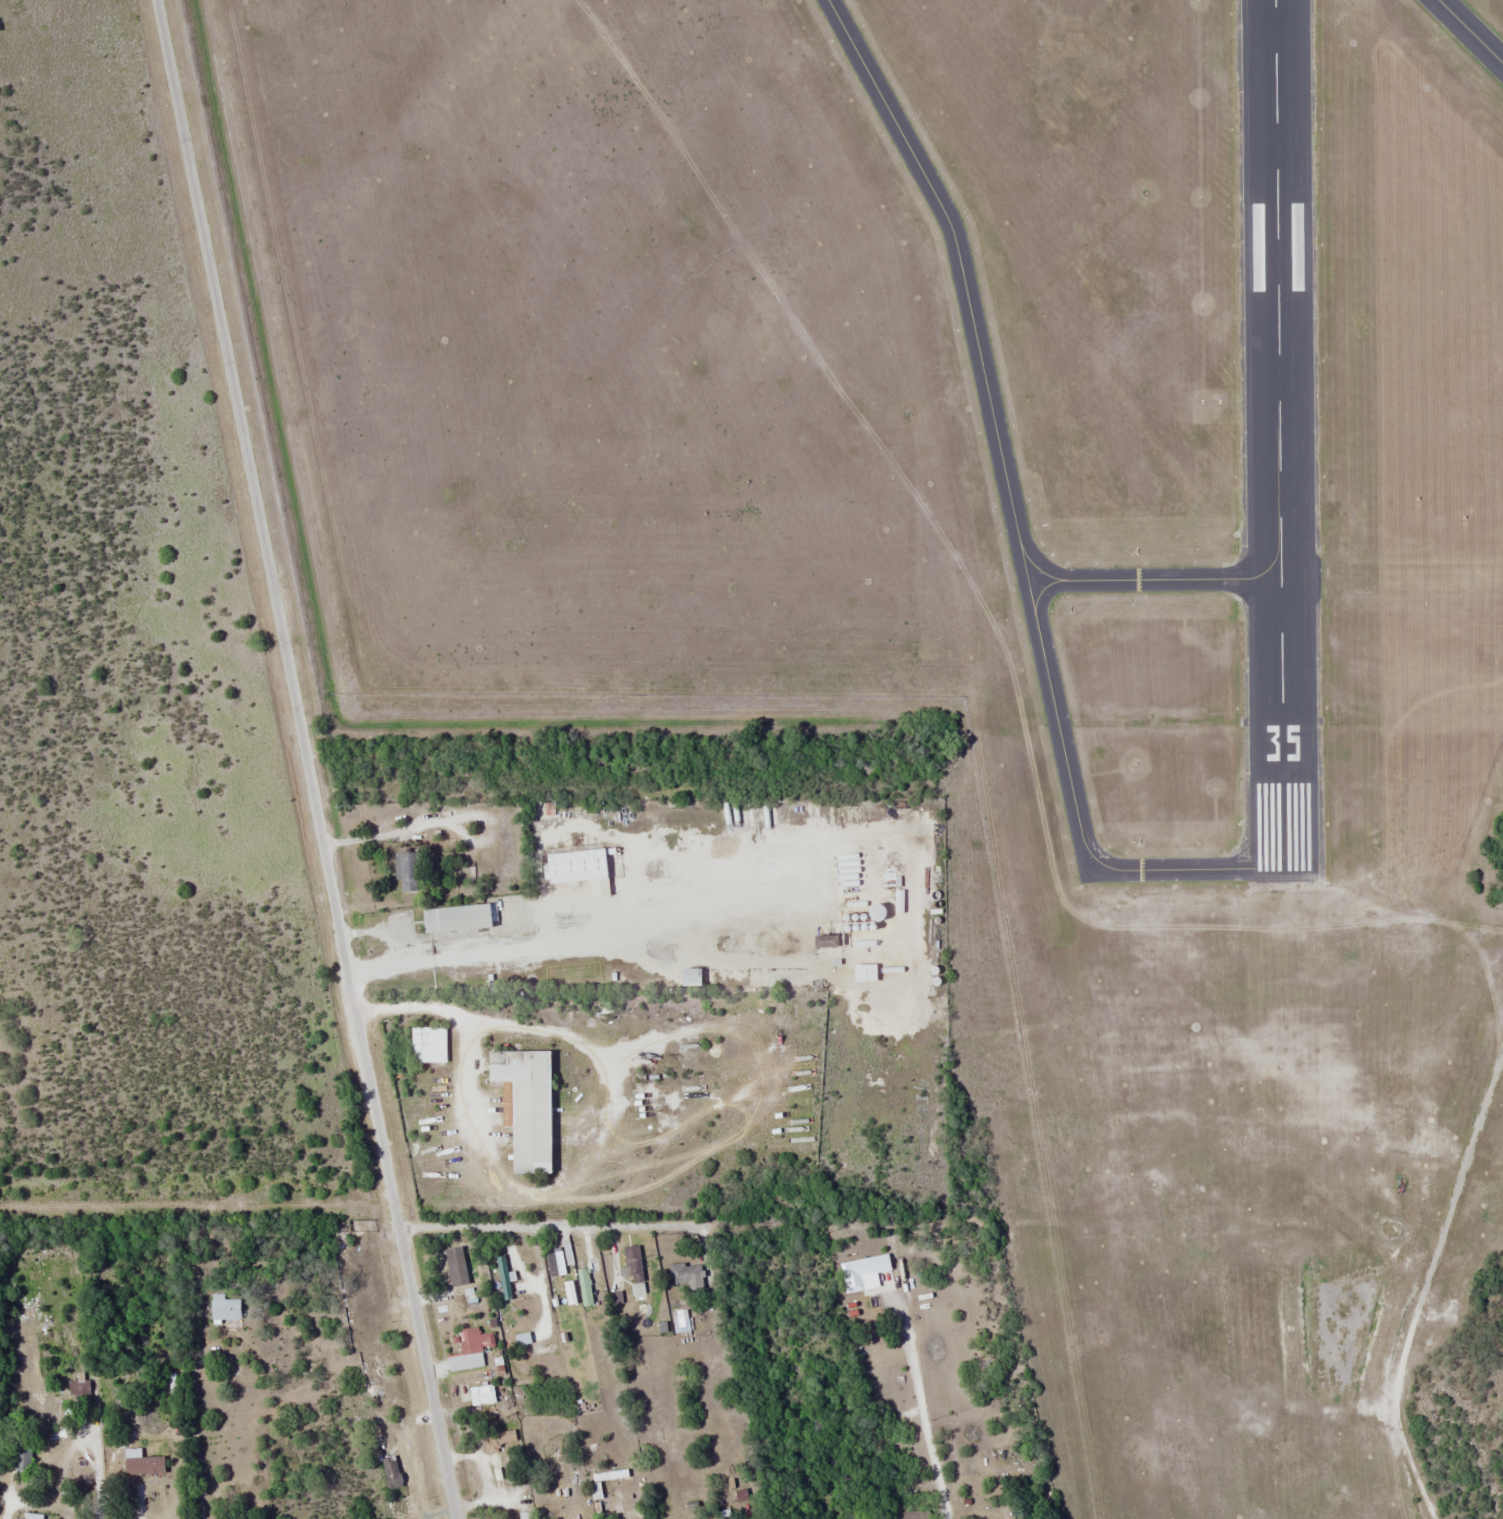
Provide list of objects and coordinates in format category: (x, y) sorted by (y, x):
airport taxiway: (1467, 34)
airport runway: (1282, 435)
airport taxiway: (1012, 517)
airport taxiway: (1155, 579)
airport: (997, 586)
road: (306, 759)
building: (845, 810)
building: (583, 867)
building: (408, 870)
building: (456, 917)
building: (822, 940)
building: (687, 976)
building: (773, 977)
building: (427, 1044)
building: (522, 1105)
road: (546, 1226)
building: (553, 1261)
building: (632, 1263)
building: (861, 1270)
building: (579, 1273)
building: (685, 1273)
building: (461, 1275)
building: (504, 1277)
road: (1423, 1287)
building: (223, 1308)
building: (520, 1332)
building: (470, 1347)
building: (78, 1390)
building: (481, 1394)
building: (498, 1439)
building: (141, 1462)
building: (525, 1515)

